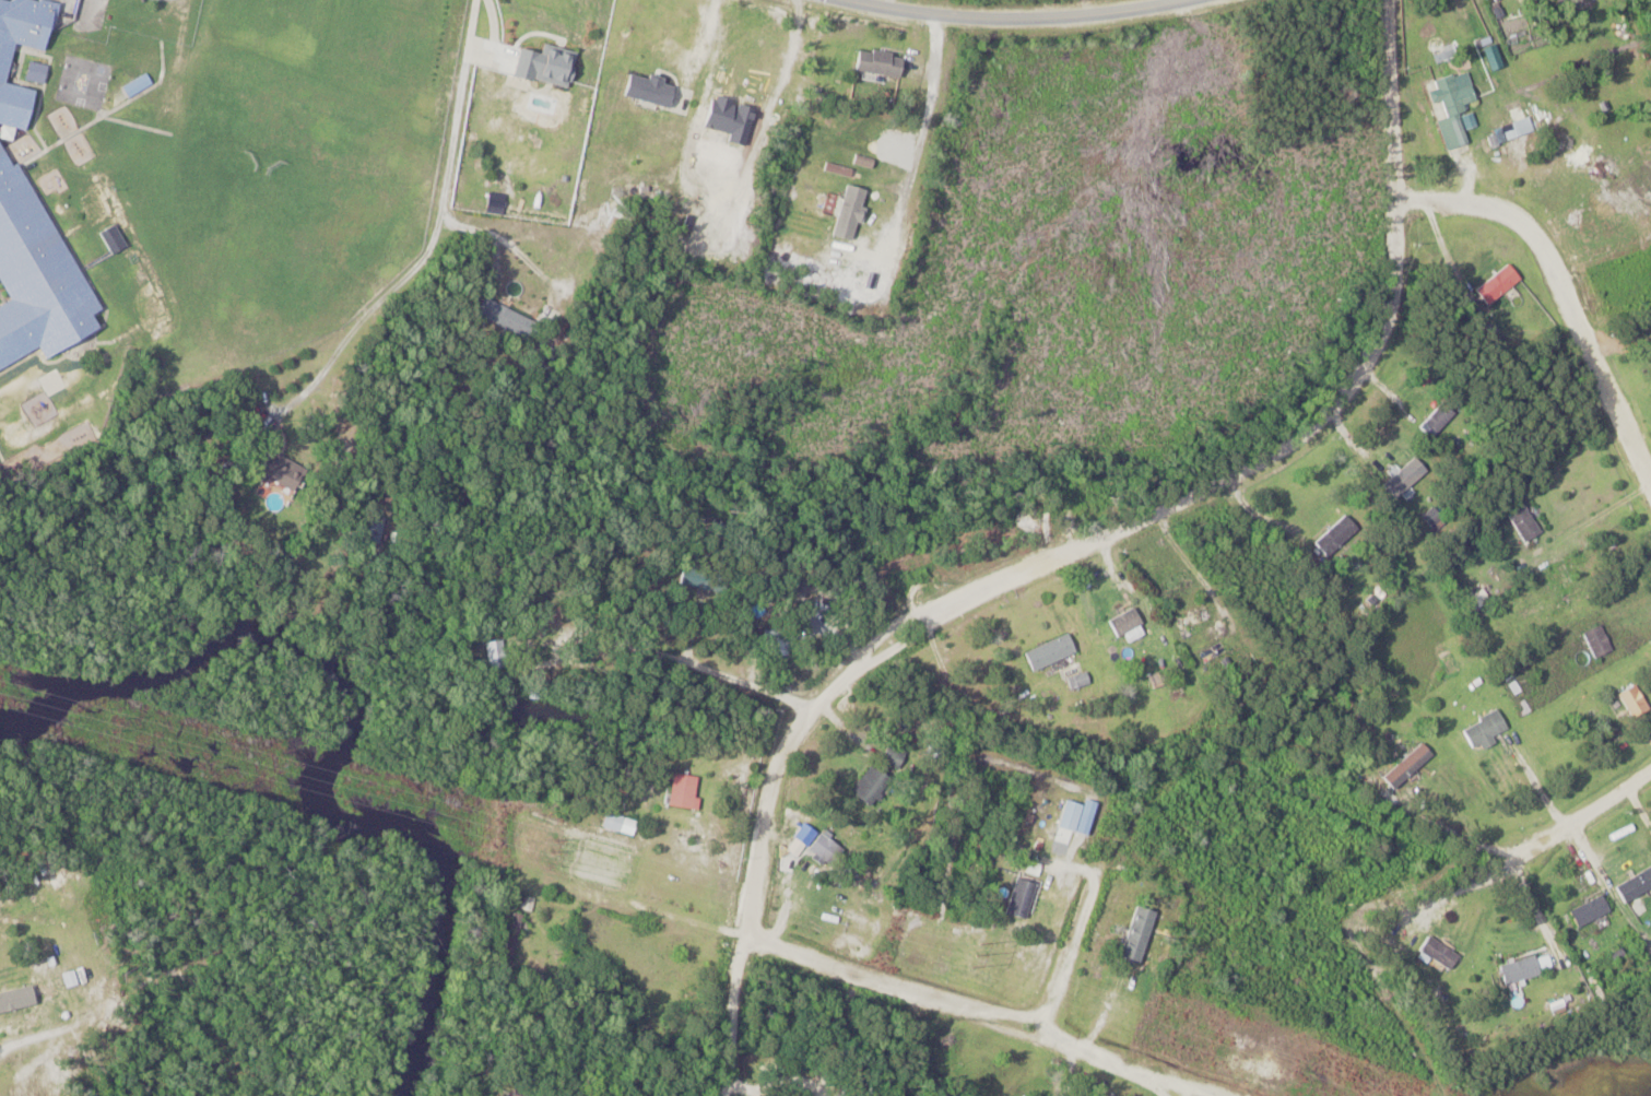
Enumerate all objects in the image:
road: (1007, 16)
building: (885, 64)
building: (2, 69)
building: (1452, 96)
building: (1509, 132)
road: (910, 180)
building: (93, 207)
road: (439, 232)
building: (36, 276)
building: (1496, 284)
road: (1570, 288)
building: (151, 307)
building: (499, 316)
building: (1650, 342)
building: (1435, 421)
building: (280, 470)
building: (1403, 478)
building: (1520, 521)
building: (372, 529)
building: (1334, 535)
road: (1080, 551)
building: (1190, 617)
building: (1123, 622)
building: (1595, 641)
road: (581, 651)
building: (1048, 652)
road: (738, 679)
building: (1078, 681)
building: (535, 696)
building: (1631, 702)
power tower: (115, 727)
building: (1483, 730)
building: (891, 758)
building: (1406, 766)
road: (1533, 779)
building: (869, 787)
building: (682, 792)
road: (1583, 808)
building: (618, 822)
road: (1454, 835)
power tower: (554, 846)
building: (824, 851)
building: (1634, 885)
road: (1464, 887)
building: (1018, 898)
road: (1532, 901)
building: (1588, 911)
building: (1135, 934)
building: (509, 939)
road: (1065, 940)
building: (1437, 953)
power tower: (977, 956)
building: (1525, 968)
road: (874, 977)
building: (19, 993)
road: (19, 1045)
building: (520, 1089)
road: (1186, 1091)
building: (1069, 1095)

